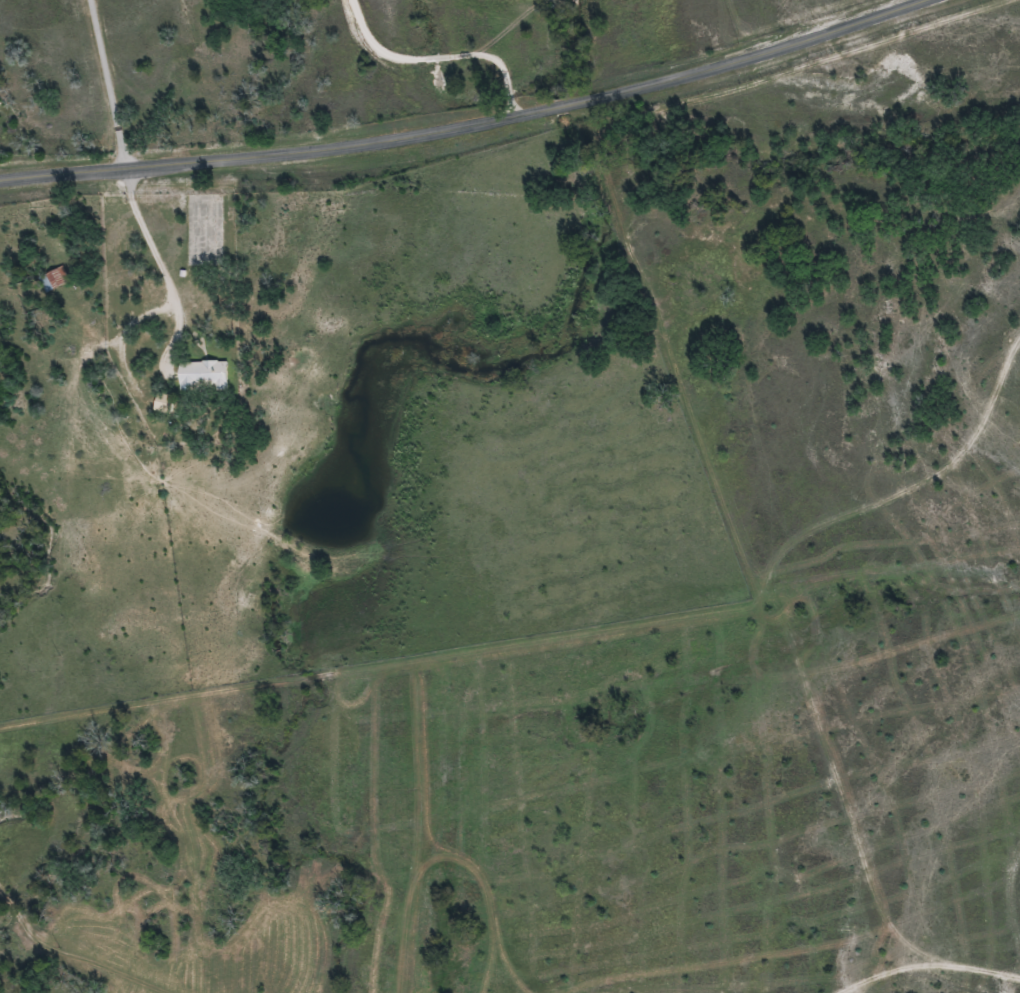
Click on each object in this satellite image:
road: (105, 84)
road: (467, 126)
building: (51, 279)
building: (200, 375)

